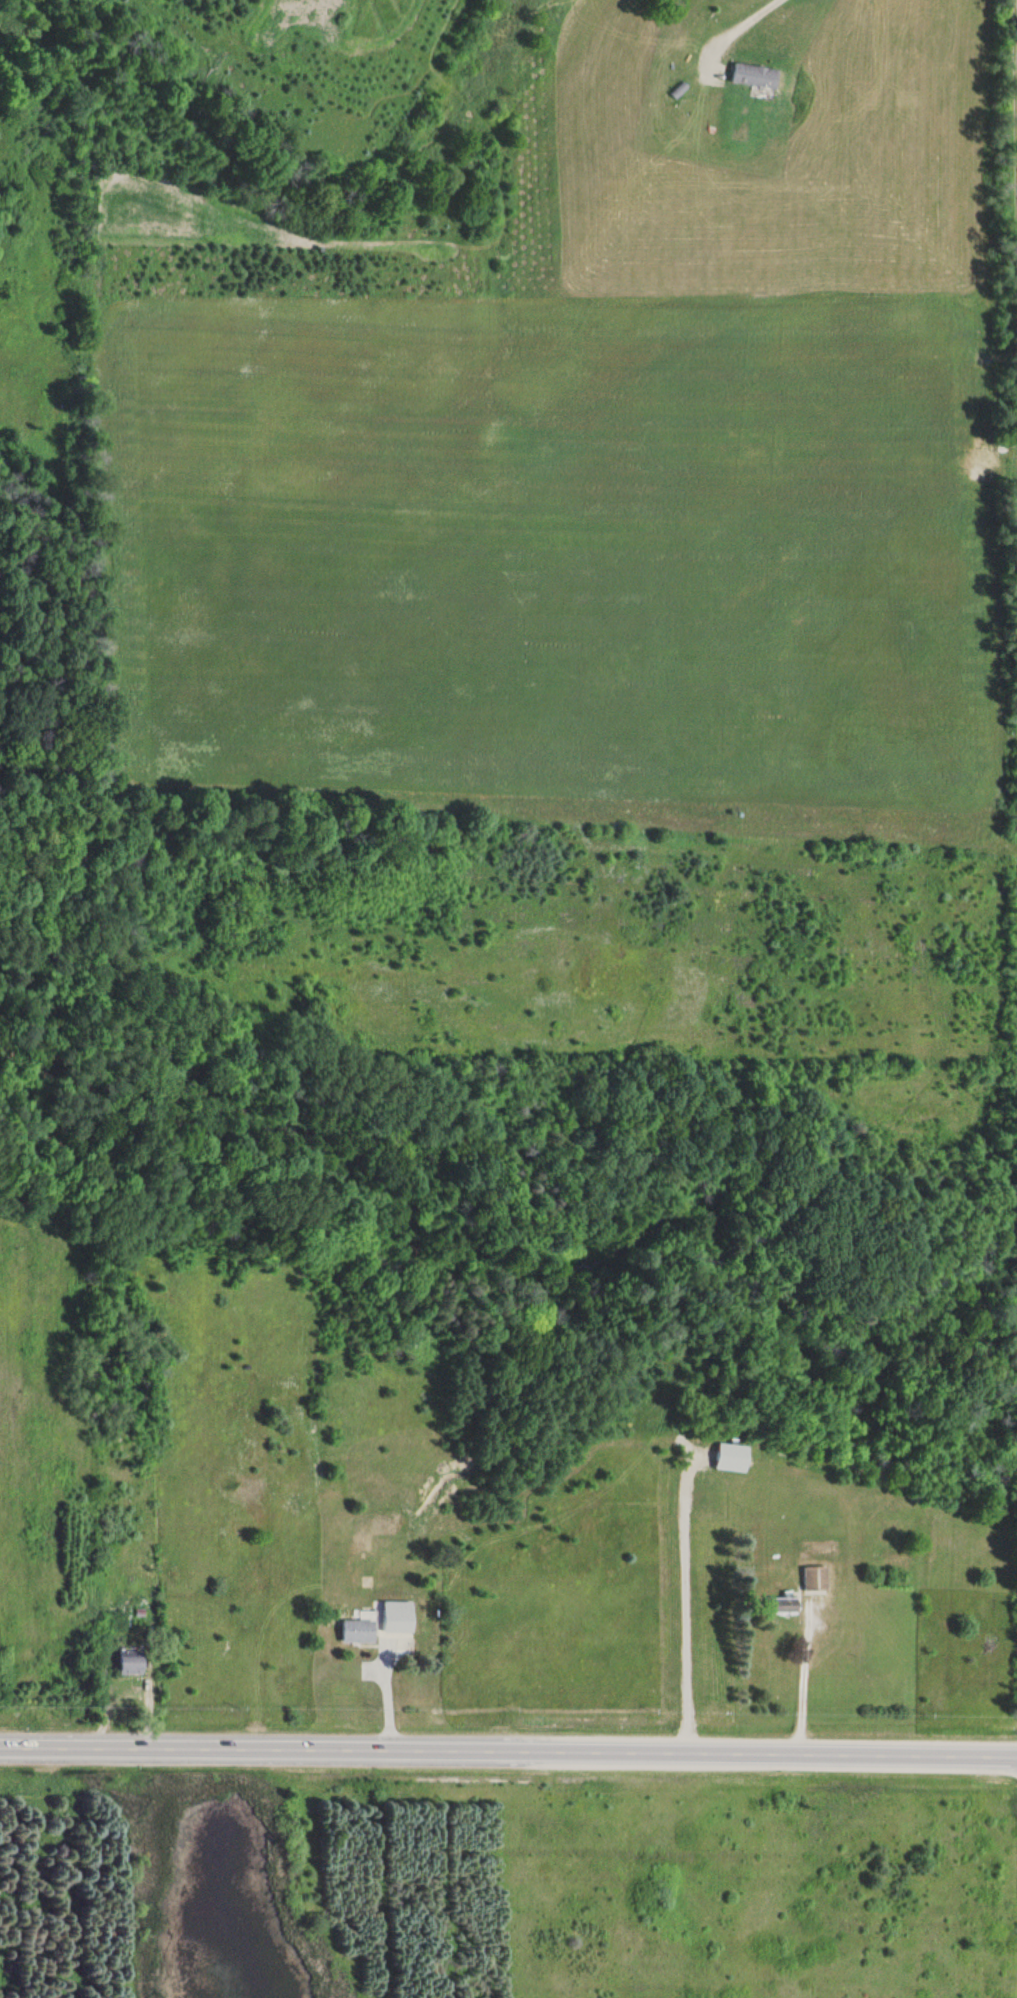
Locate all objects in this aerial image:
building: (755, 76)
road: (1013, 206)
building: (733, 1458)
building: (815, 1579)
building: (388, 1624)
building: (358, 1631)
building: (132, 1665)
road: (508, 1751)

